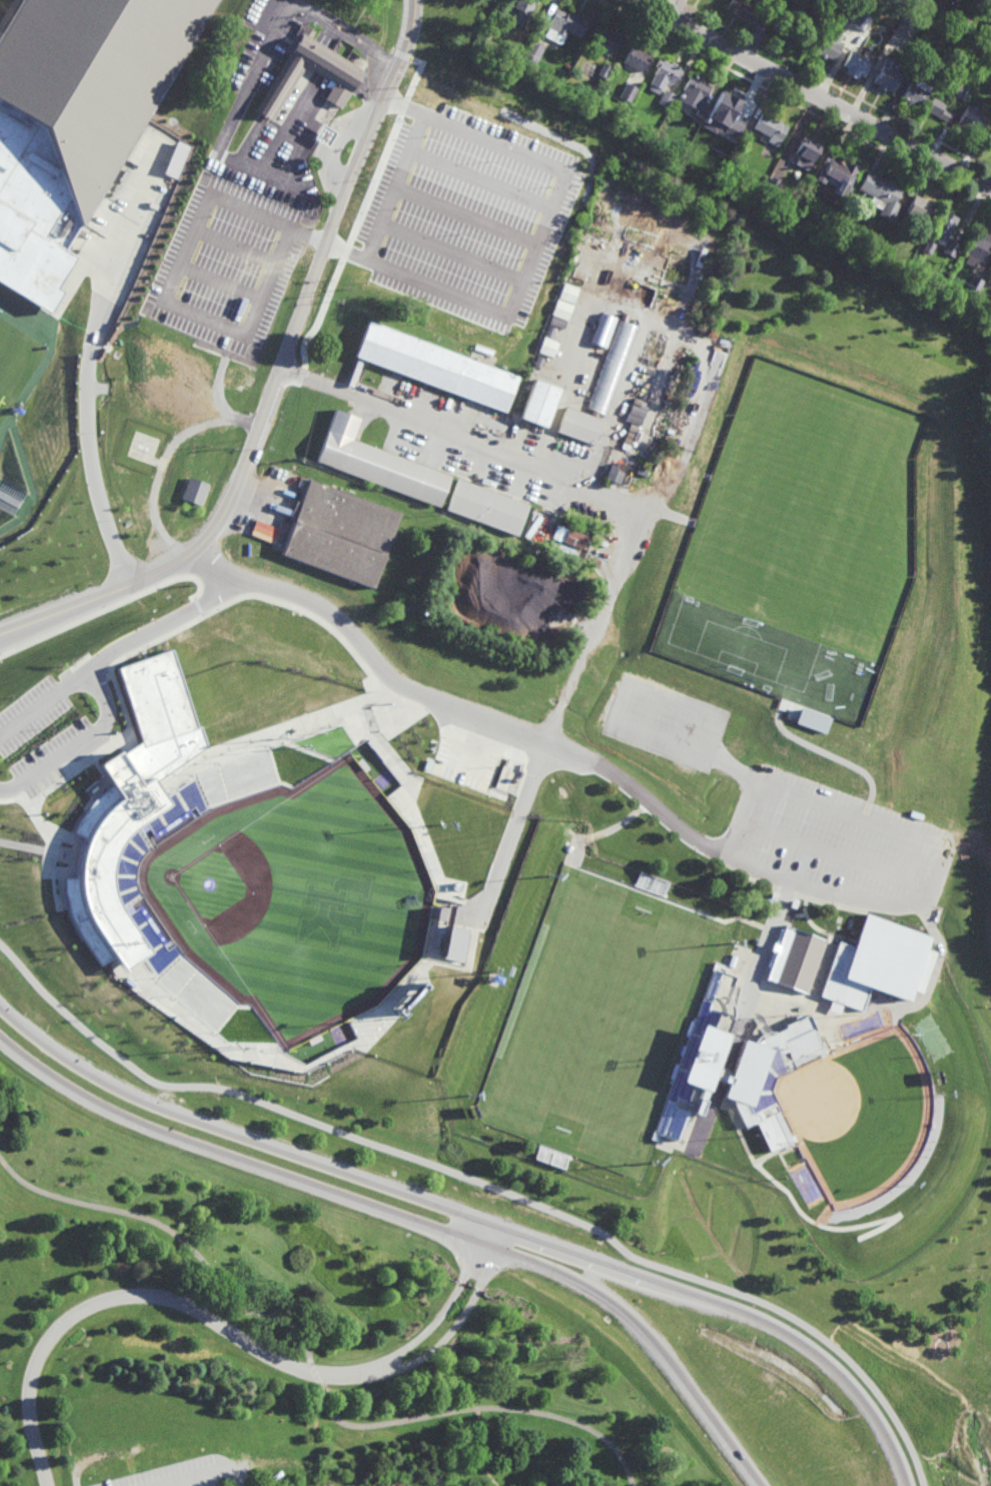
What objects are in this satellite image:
road: (681, 2)
building: (800, 2)
road: (697, 5)
road: (675, 8)
building: (522, 11)
road: (654, 13)
building: (748, 13)
building: (858, 17)
road: (684, 25)
building: (563, 26)
road: (346, 28)
road: (345, 37)
building: (891, 39)
building: (832, 40)
building: (607, 41)
building: (533, 52)
building: (636, 57)
building: (856, 65)
building: (605, 71)
building: (664, 75)
building: (341, 76)
building: (885, 76)
building: (93, 77)
road: (838, 88)
road: (310, 90)
building: (695, 90)
building: (961, 91)
building: (628, 93)
building: (914, 93)
road: (815, 94)
building: (666, 98)
road: (795, 104)
building: (937, 109)
building: (731, 110)
building: (970, 119)
road: (230, 126)
building: (770, 128)
building: (324, 135)
building: (990, 141)
road: (331, 147)
building: (807, 153)
building: (734, 159)
building: (721, 160)
road: (399, 169)
building: (841, 175)
road: (479, 178)
building: (771, 187)
road: (698, 188)
building: (882, 194)
building: (918, 209)
road: (359, 212)
building: (32, 213)
road: (464, 215)
parking lot: (467, 216)
building: (831, 222)
building: (939, 231)
parking lot: (248, 236)
road: (236, 245)
building: (977, 248)
building: (950, 249)
road: (124, 251)
road: (450, 253)
building: (884, 256)
road: (312, 281)
road: (218, 283)
building: (974, 286)
road: (168, 287)
road: (518, 289)
building: (568, 294)
road: (983, 327)
building: (603, 330)
building: (549, 333)
building: (548, 348)
building: (537, 362)
road: (43, 365)
park: (9, 366)
building: (437, 368)
road: (986, 369)
building: (598, 389)
building: (538, 403)
road: (461, 438)
helipad: (142, 448)
building: (378, 461)
building: (642, 469)
building: (614, 471)
road: (92, 473)
road: (28, 480)
road: (1, 483)
building: (194, 491)
road: (26, 498)
park: (793, 501)
road: (22, 505)
building: (486, 506)
road: (19, 512)
building: (340, 531)
building: (574, 539)
road: (96, 596)
road: (165, 622)
road: (594, 626)
road: (102, 700)
road: (450, 704)
parking lot: (666, 716)
building: (811, 720)
parking lot: (36, 734)
building: (129, 804)
building: (583, 805)
building: (581, 817)
road: (25, 847)
parking lot: (839, 850)
road: (939, 851)
road: (834, 854)
stadium: (287, 871)
stadium: (651, 884)
building: (126, 888)
park: (296, 899)
building: (455, 943)
building: (794, 959)
building: (874, 964)
park: (601, 1019)
building: (697, 1056)
building: (768, 1077)
park: (859, 1116)
building: (804, 1184)
road: (485, 1185)
road: (410, 1217)
road: (474, 1218)
road: (638, 1267)
road: (133, 1297)
road: (442, 1312)
road: (457, 1325)
park: (287, 1331)
road: (311, 1364)
road: (486, 1448)
parking lot: (189, 1474)
road: (201, 1474)
road: (384, 1484)

